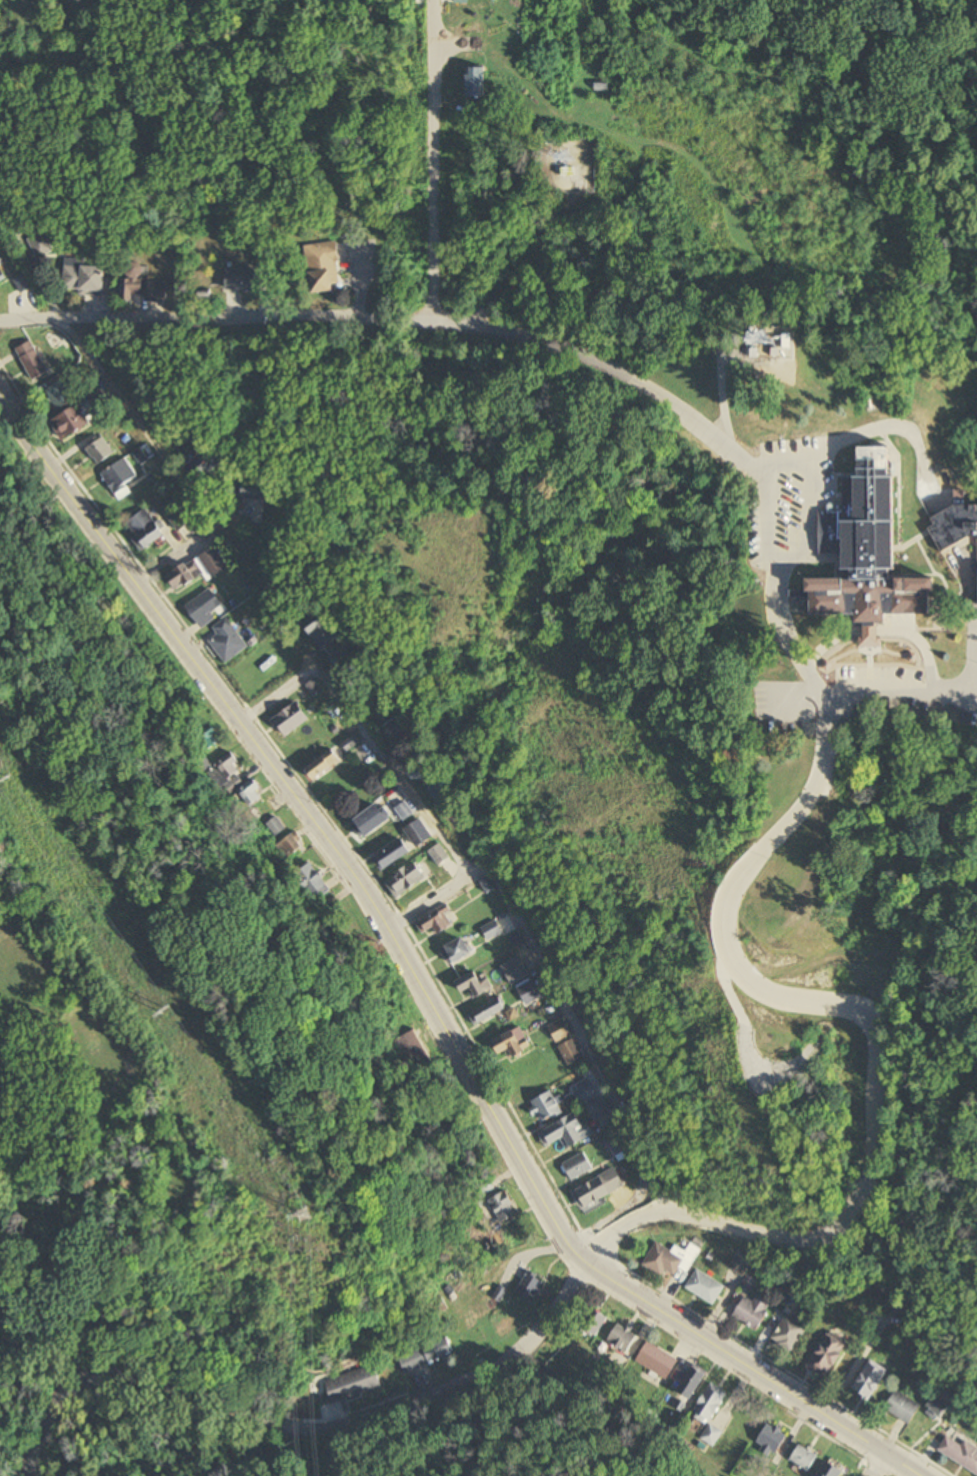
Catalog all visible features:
building: (475, 82)
road: (433, 160)
building: (39, 245)
building: (327, 254)
road: (523, 261)
building: (2, 277)
building: (82, 277)
building: (241, 279)
building: (132, 281)
building: (322, 281)
building: (158, 292)
road: (405, 319)
building: (31, 361)
road: (725, 385)
building: (61, 395)
building: (70, 423)
building: (101, 451)
road: (166, 458)
building: (207, 462)
building: (119, 476)
building: (252, 489)
building: (956, 523)
building: (144, 529)
building: (874, 552)
building: (198, 570)
road: (775, 594)
building: (205, 608)
building: (319, 630)
road: (875, 631)
building: (227, 641)
road: (958, 688)
building: (787, 717)
building: (291, 719)
building: (351, 744)
building: (201, 762)
building: (324, 765)
building: (227, 775)
power tower: (12, 777)
building: (251, 793)
building: (404, 811)
building: (371, 820)
building: (276, 826)
building: (418, 833)
building: (290, 846)
building: (394, 854)
building: (439, 855)
building: (406, 880)
building: (314, 883)
road: (425, 897)
road: (502, 899)
building: (330, 903)
building: (437, 920)
building: (491, 930)
building: (457, 951)
road: (420, 976)
building: (474, 984)
building: (528, 993)
power tower: (170, 1010)
building: (490, 1011)
building: (559, 1031)
road: (875, 1031)
building: (513, 1044)
building: (414, 1052)
building: (570, 1052)
park: (95, 1065)
building: (586, 1094)
building: (546, 1108)
building: (599, 1110)
building: (567, 1132)
building: (614, 1146)
building: (577, 1167)
building: (597, 1191)
building: (504, 1207)
power tower: (318, 1220)
building: (670, 1259)
building: (739, 1263)
building: (531, 1287)
building: (705, 1287)
building: (753, 1312)
building: (593, 1321)
building: (788, 1335)
building: (623, 1339)
building: (427, 1355)
building: (828, 1356)
building: (657, 1361)
building: (693, 1382)
building: (353, 1384)
building: (869, 1384)
building: (711, 1403)
building: (941, 1406)
building: (903, 1408)
road: (306, 1426)
building: (711, 1436)
building: (771, 1441)
building: (961, 1453)
building: (805, 1459)
road: (874, 1467)

